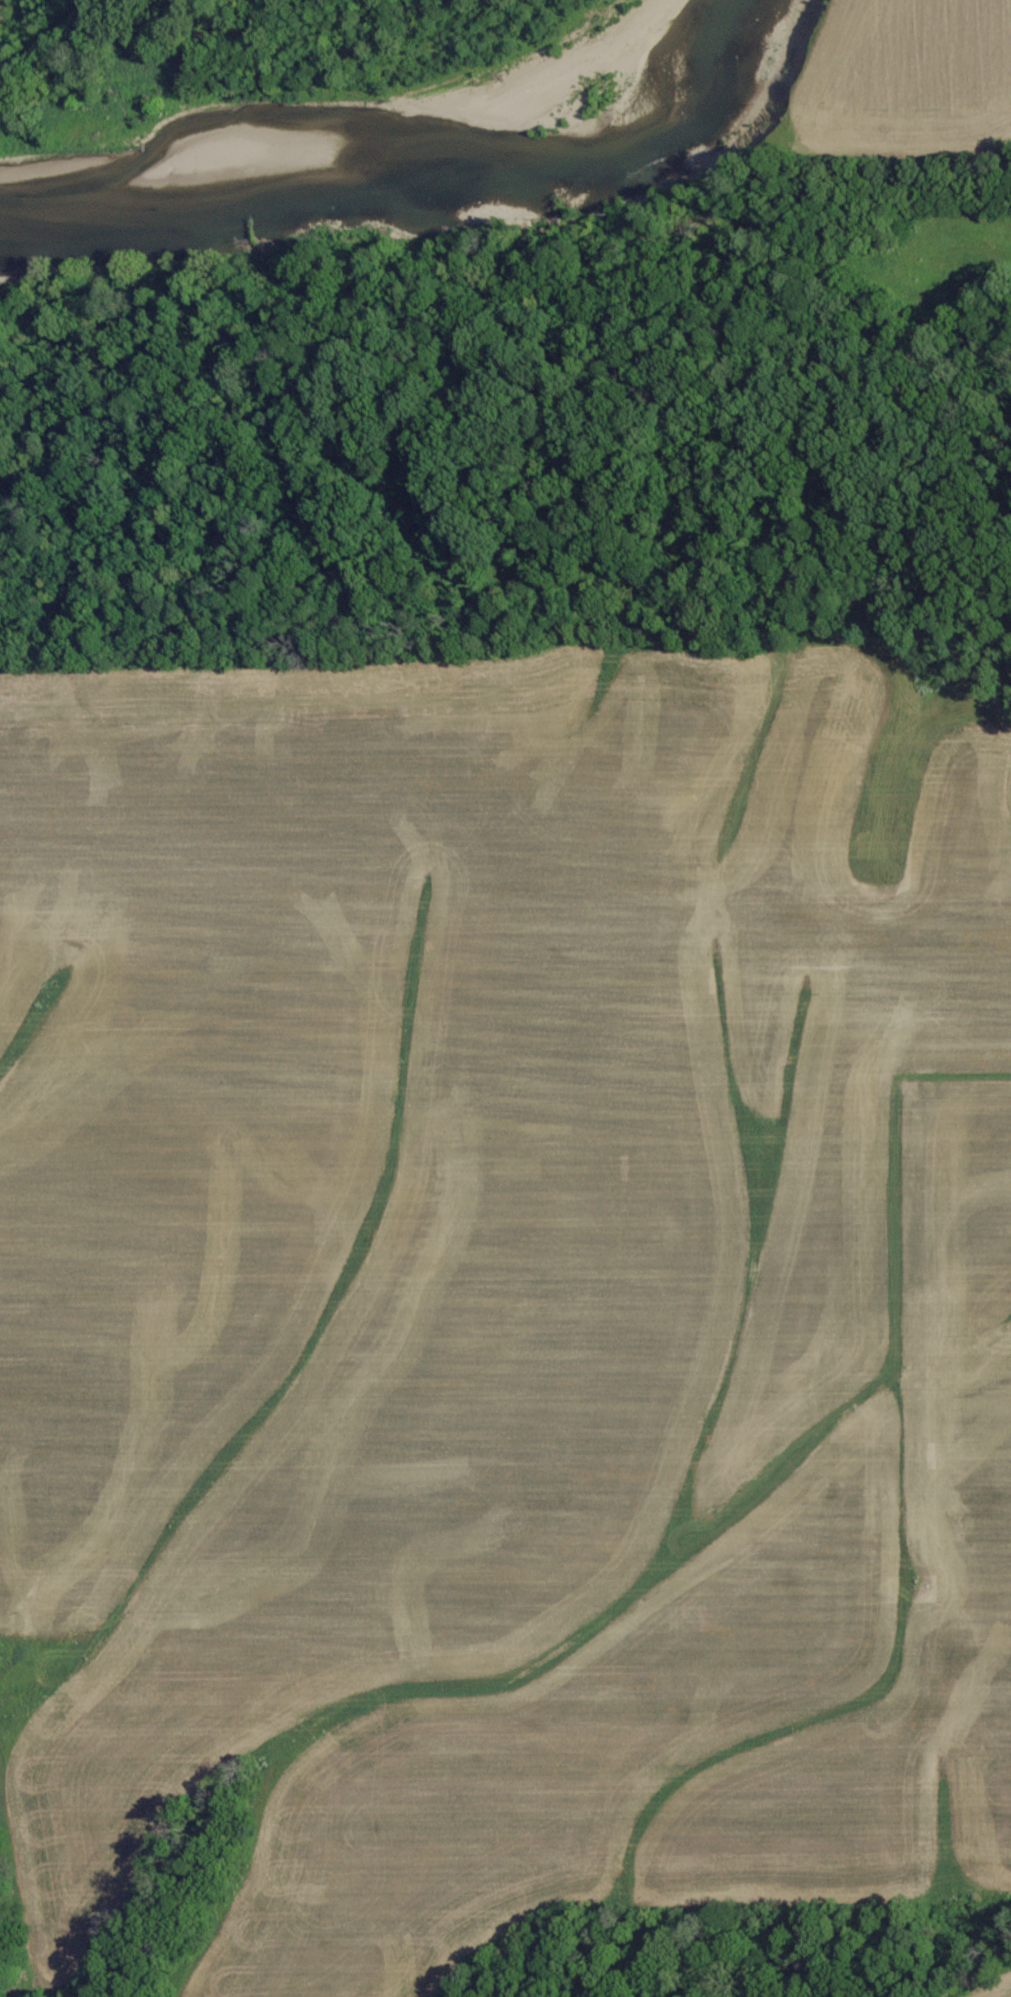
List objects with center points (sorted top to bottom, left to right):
river: (359, 149)

